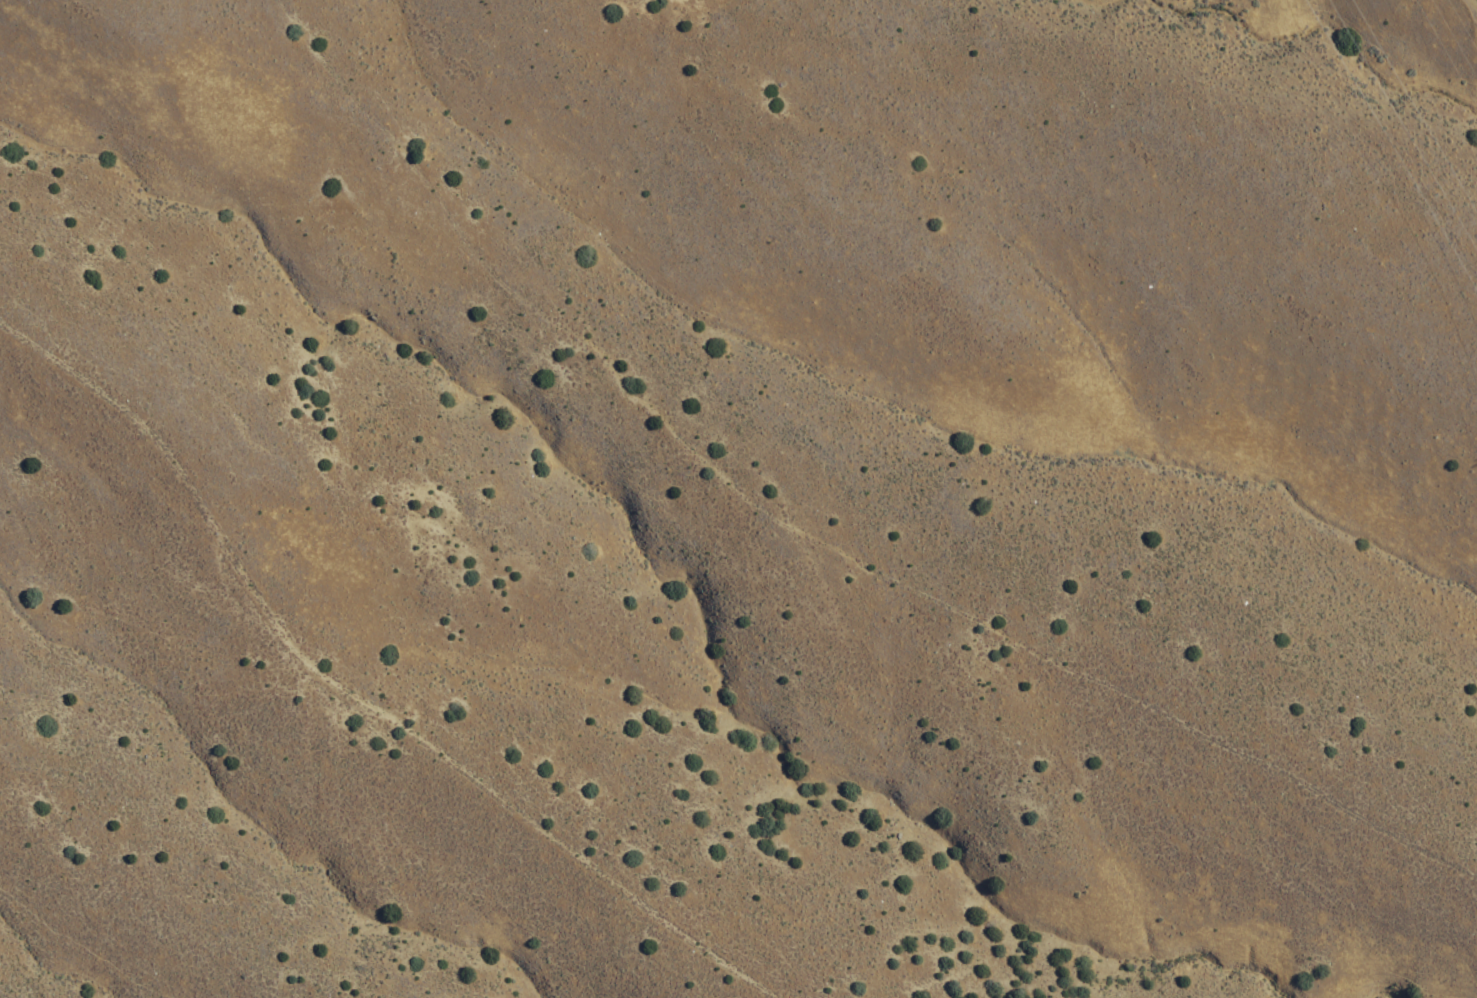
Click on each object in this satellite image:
road: (1475, 1)

